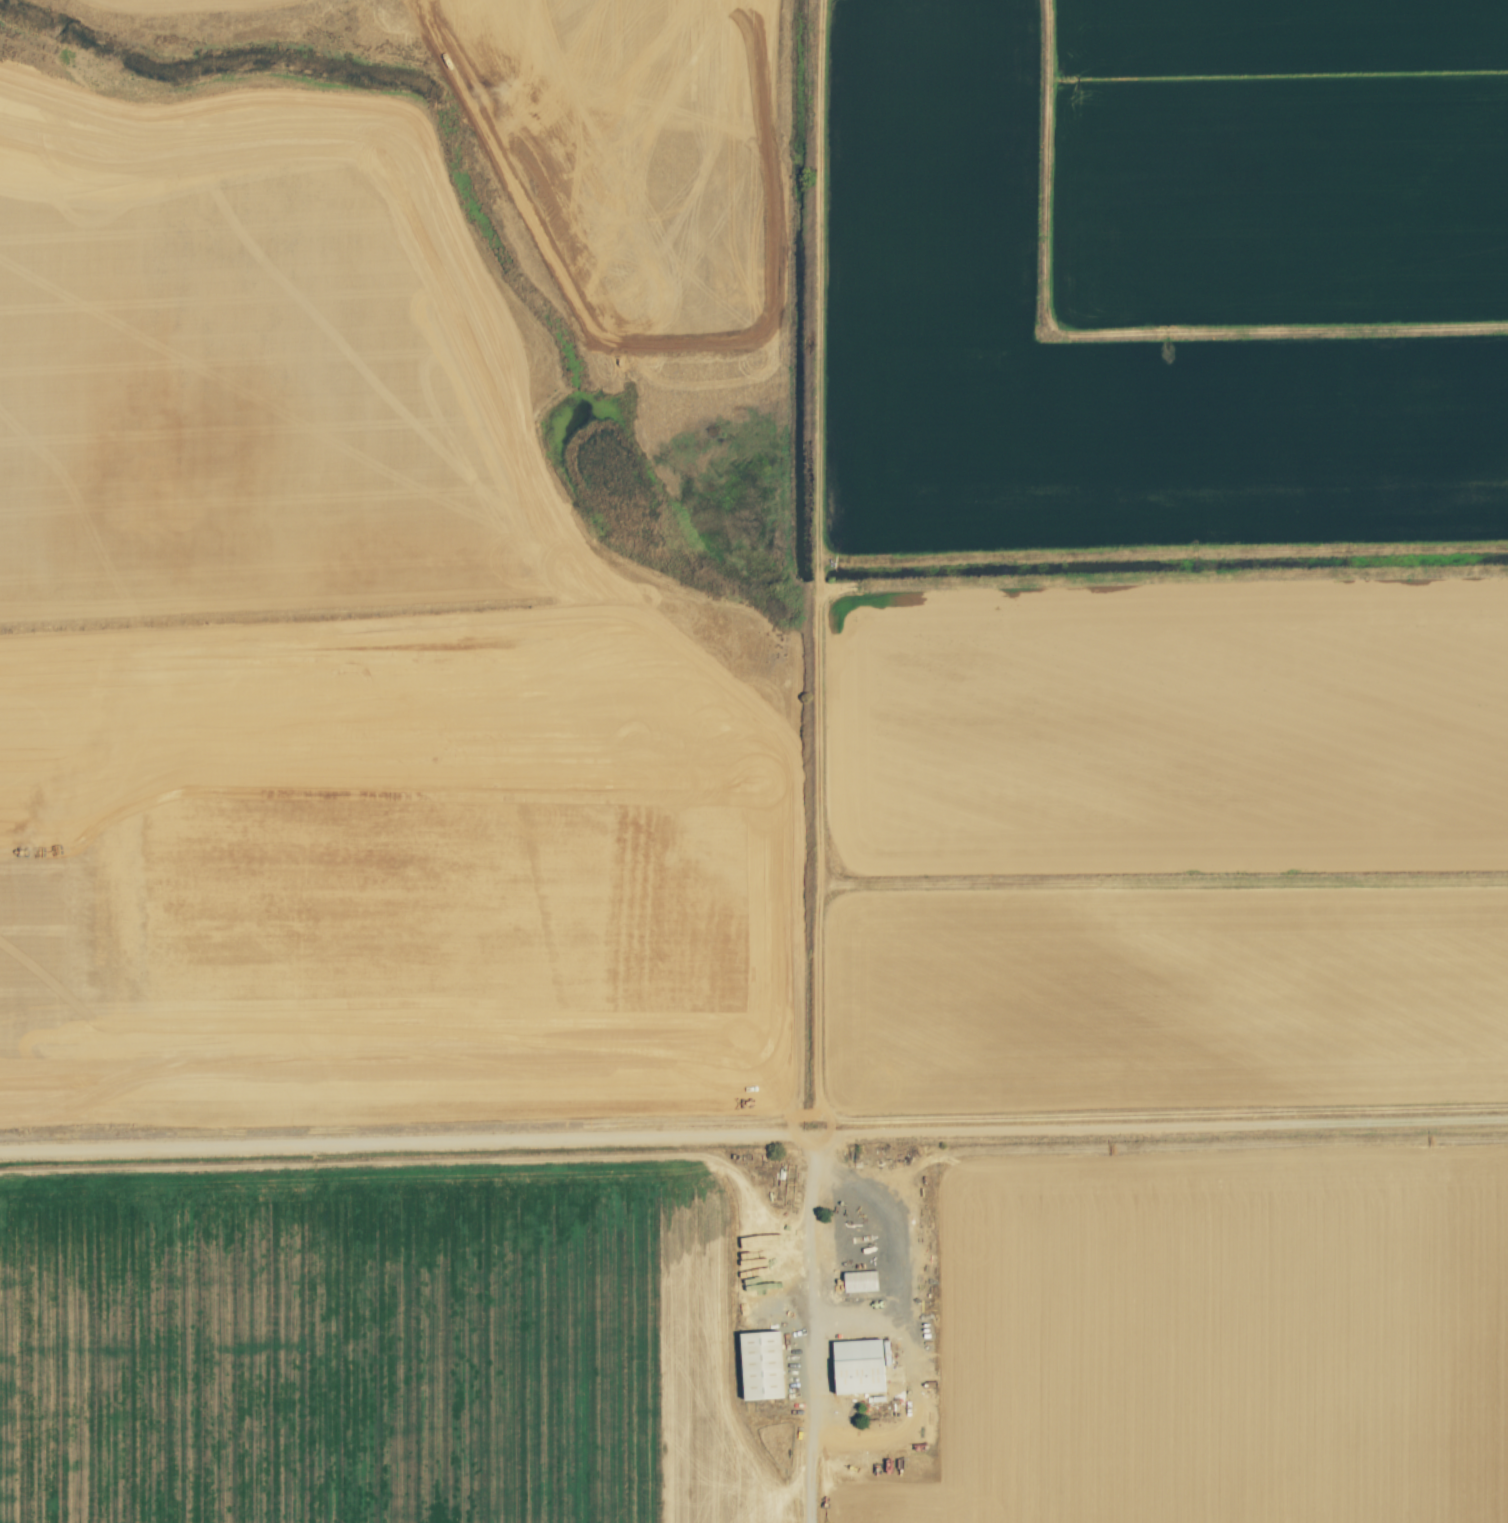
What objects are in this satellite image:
road: (597, 1135)
building: (861, 1281)
building: (763, 1365)
building: (860, 1366)

